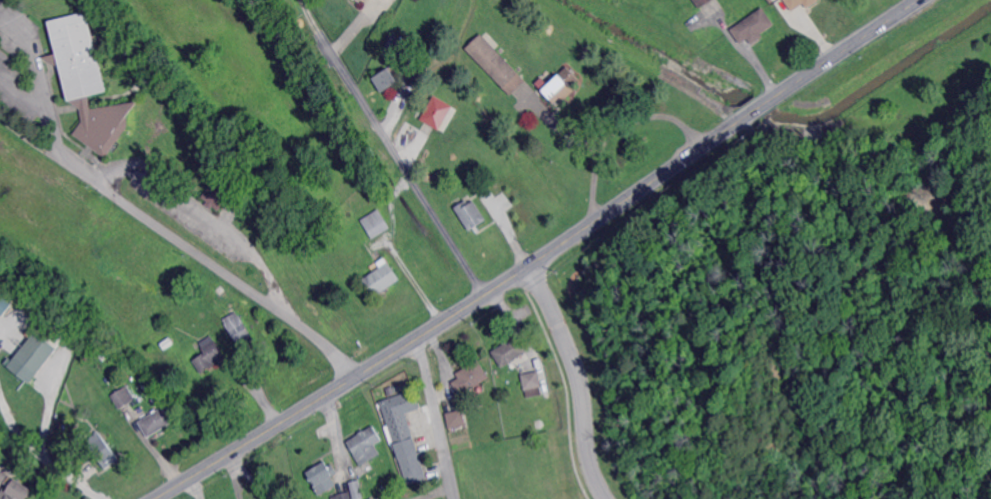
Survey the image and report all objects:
building: (359, 0)
building: (702, 2)
building: (795, 3)
building: (754, 27)
building: (389, 49)
building: (495, 65)
building: (384, 80)
building: (85, 82)
building: (559, 85)
building: (435, 111)
road: (651, 114)
road: (591, 143)
road: (382, 152)
building: (439, 177)
building: (215, 197)
building: (244, 199)
road: (201, 214)
building: (469, 214)
building: (375, 224)
road: (181, 243)
road: (542, 257)
building: (380, 279)
road: (409, 280)
building: (220, 289)
building: (3, 304)
building: (237, 330)
building: (510, 349)
building: (35, 353)
building: (208, 355)
building: (468, 377)
road: (574, 381)
building: (531, 384)
building: (122, 397)
road: (437, 418)
building: (456, 419)
building: (156, 421)
building: (404, 435)
building: (365, 446)
building: (101, 450)
road: (250, 477)
building: (322, 477)
road: (197, 487)
building: (355, 490)
building: (18, 491)
building: (342, 496)
building: (369, 498)

